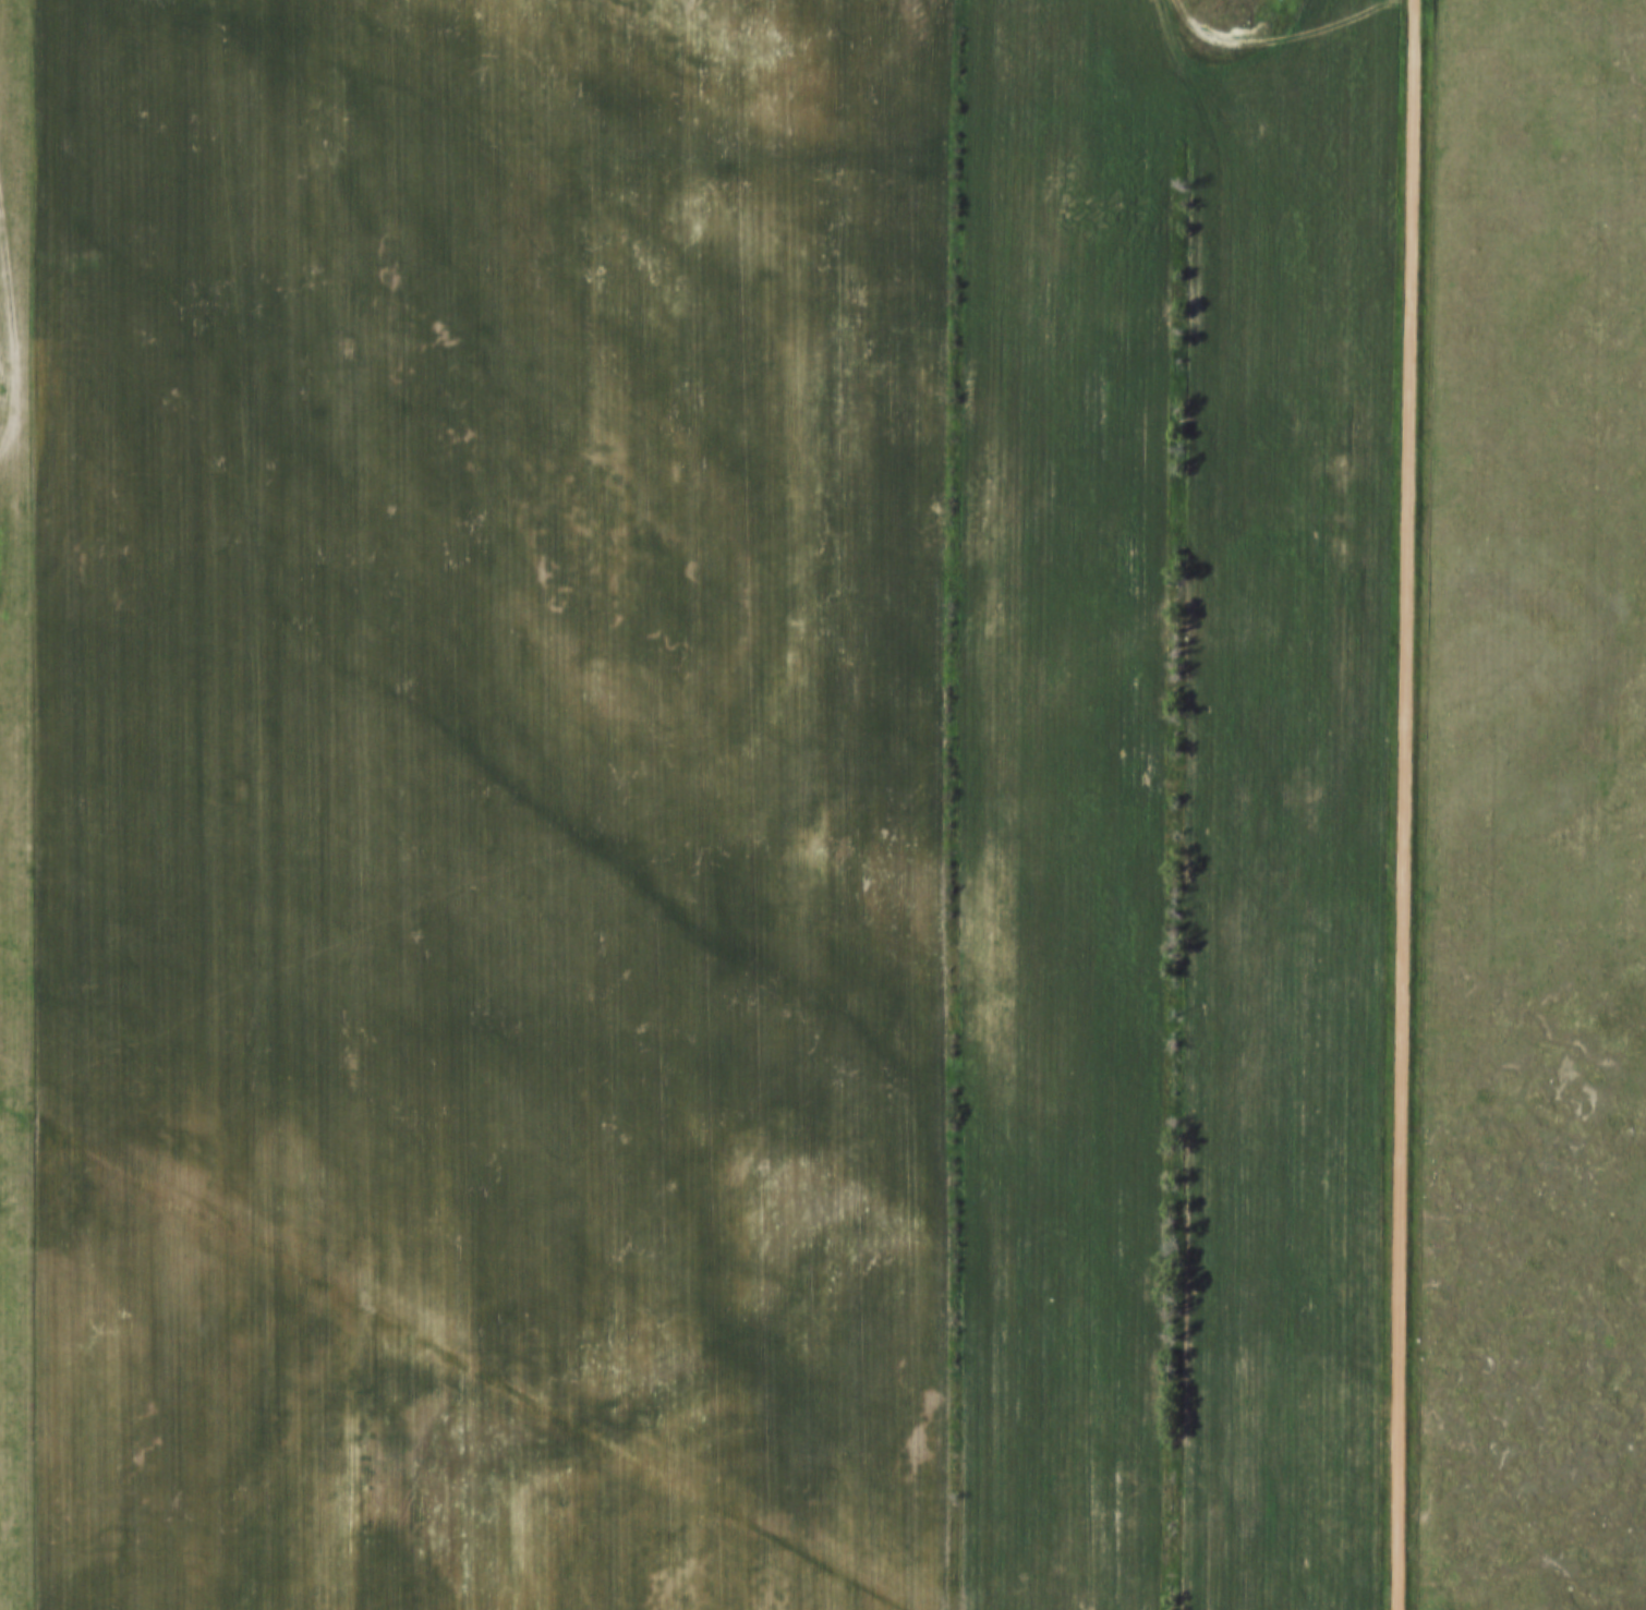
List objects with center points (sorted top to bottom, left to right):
road: (1274, 39)
road: (1404, 804)

